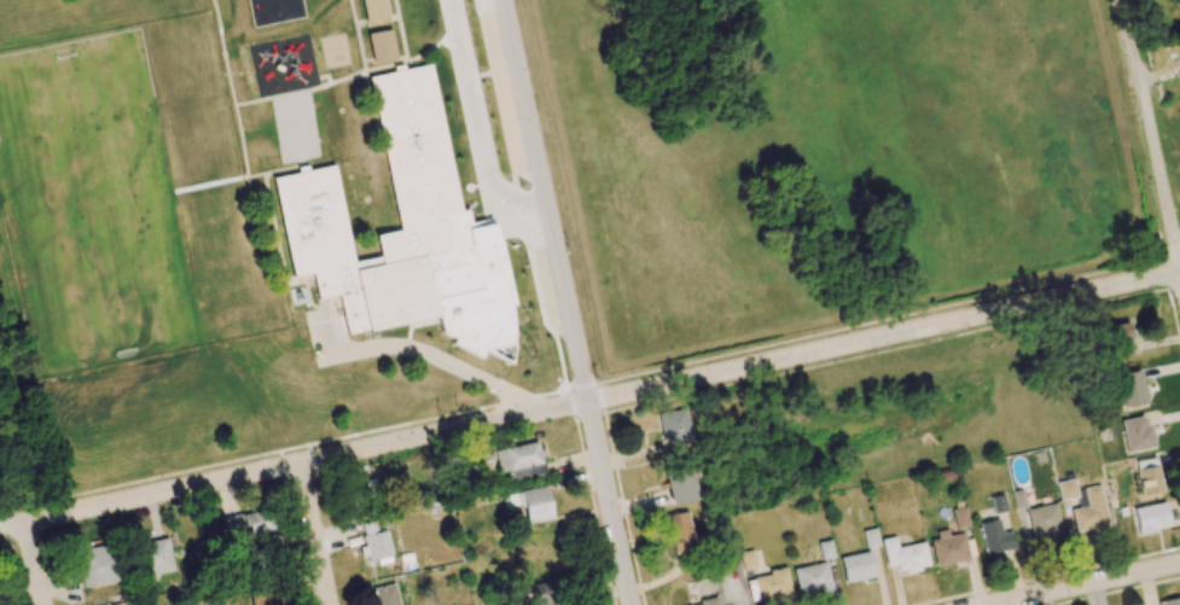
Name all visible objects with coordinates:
building: (373, 12)
building: (380, 46)
road: (477, 121)
road: (1149, 122)
street lamp: (1135, 126)
building: (402, 232)
road: (1179, 251)
street lamp: (1169, 295)
road: (566, 302)
building: (1120, 338)
road: (442, 360)
building: (1130, 388)
road: (589, 400)
building: (673, 429)
building: (1135, 434)
building: (519, 460)
building: (1147, 476)
building: (680, 487)
building: (1065, 489)
building: (1018, 499)
building: (536, 504)
building: (998, 504)
building: (1089, 512)
building: (960, 517)
building: (1150, 517)
building: (248, 523)
building: (1042, 523)
building: (680, 533)
road: (314, 534)
building: (870, 537)
building: (995, 537)
building: (374, 541)
building: (948, 548)
building: (825, 549)
building: (903, 554)
building: (155, 558)
building: (748, 559)
building: (254, 562)
road: (35, 563)
building: (95, 566)
building: (856, 566)
building: (812, 578)
road: (1085, 584)
building: (772, 586)
building: (544, 593)
building: (385, 594)
building: (262, 597)
building: (1170, 601)
building: (707, 603)

